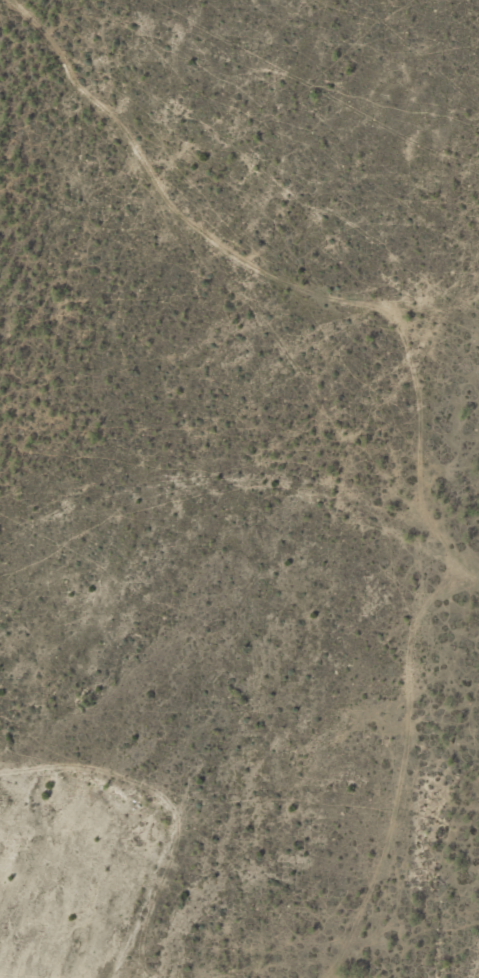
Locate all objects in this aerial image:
road: (249, 512)

